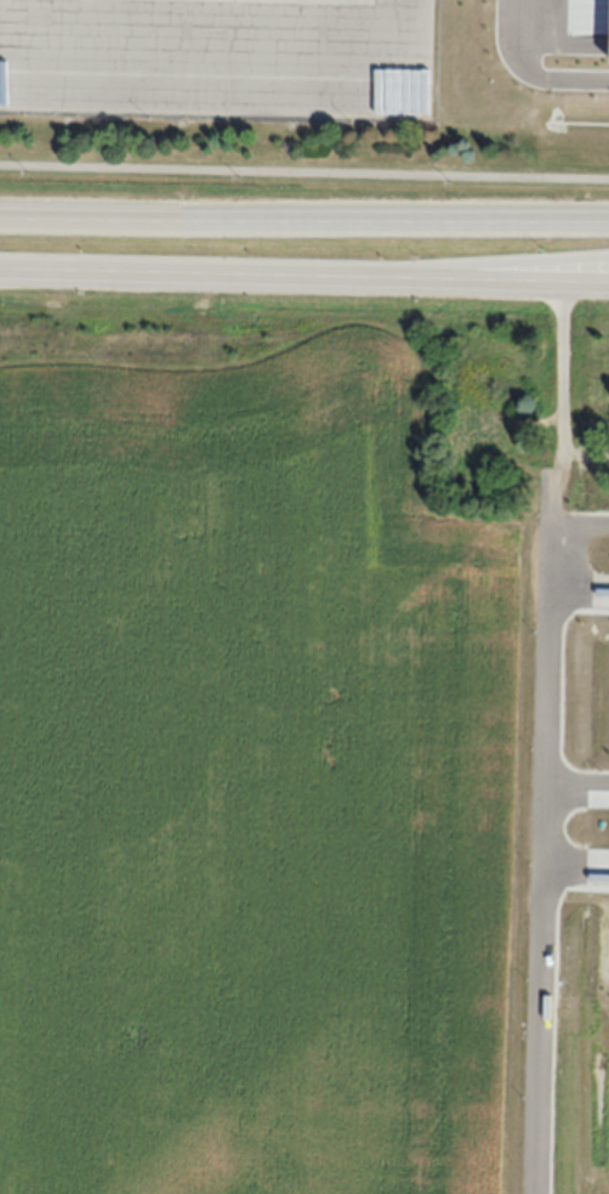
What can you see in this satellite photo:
road: (304, 46)
road: (304, 169)
road: (304, 216)
road: (560, 270)
road: (304, 272)
road: (563, 361)
building: (477, 437)

